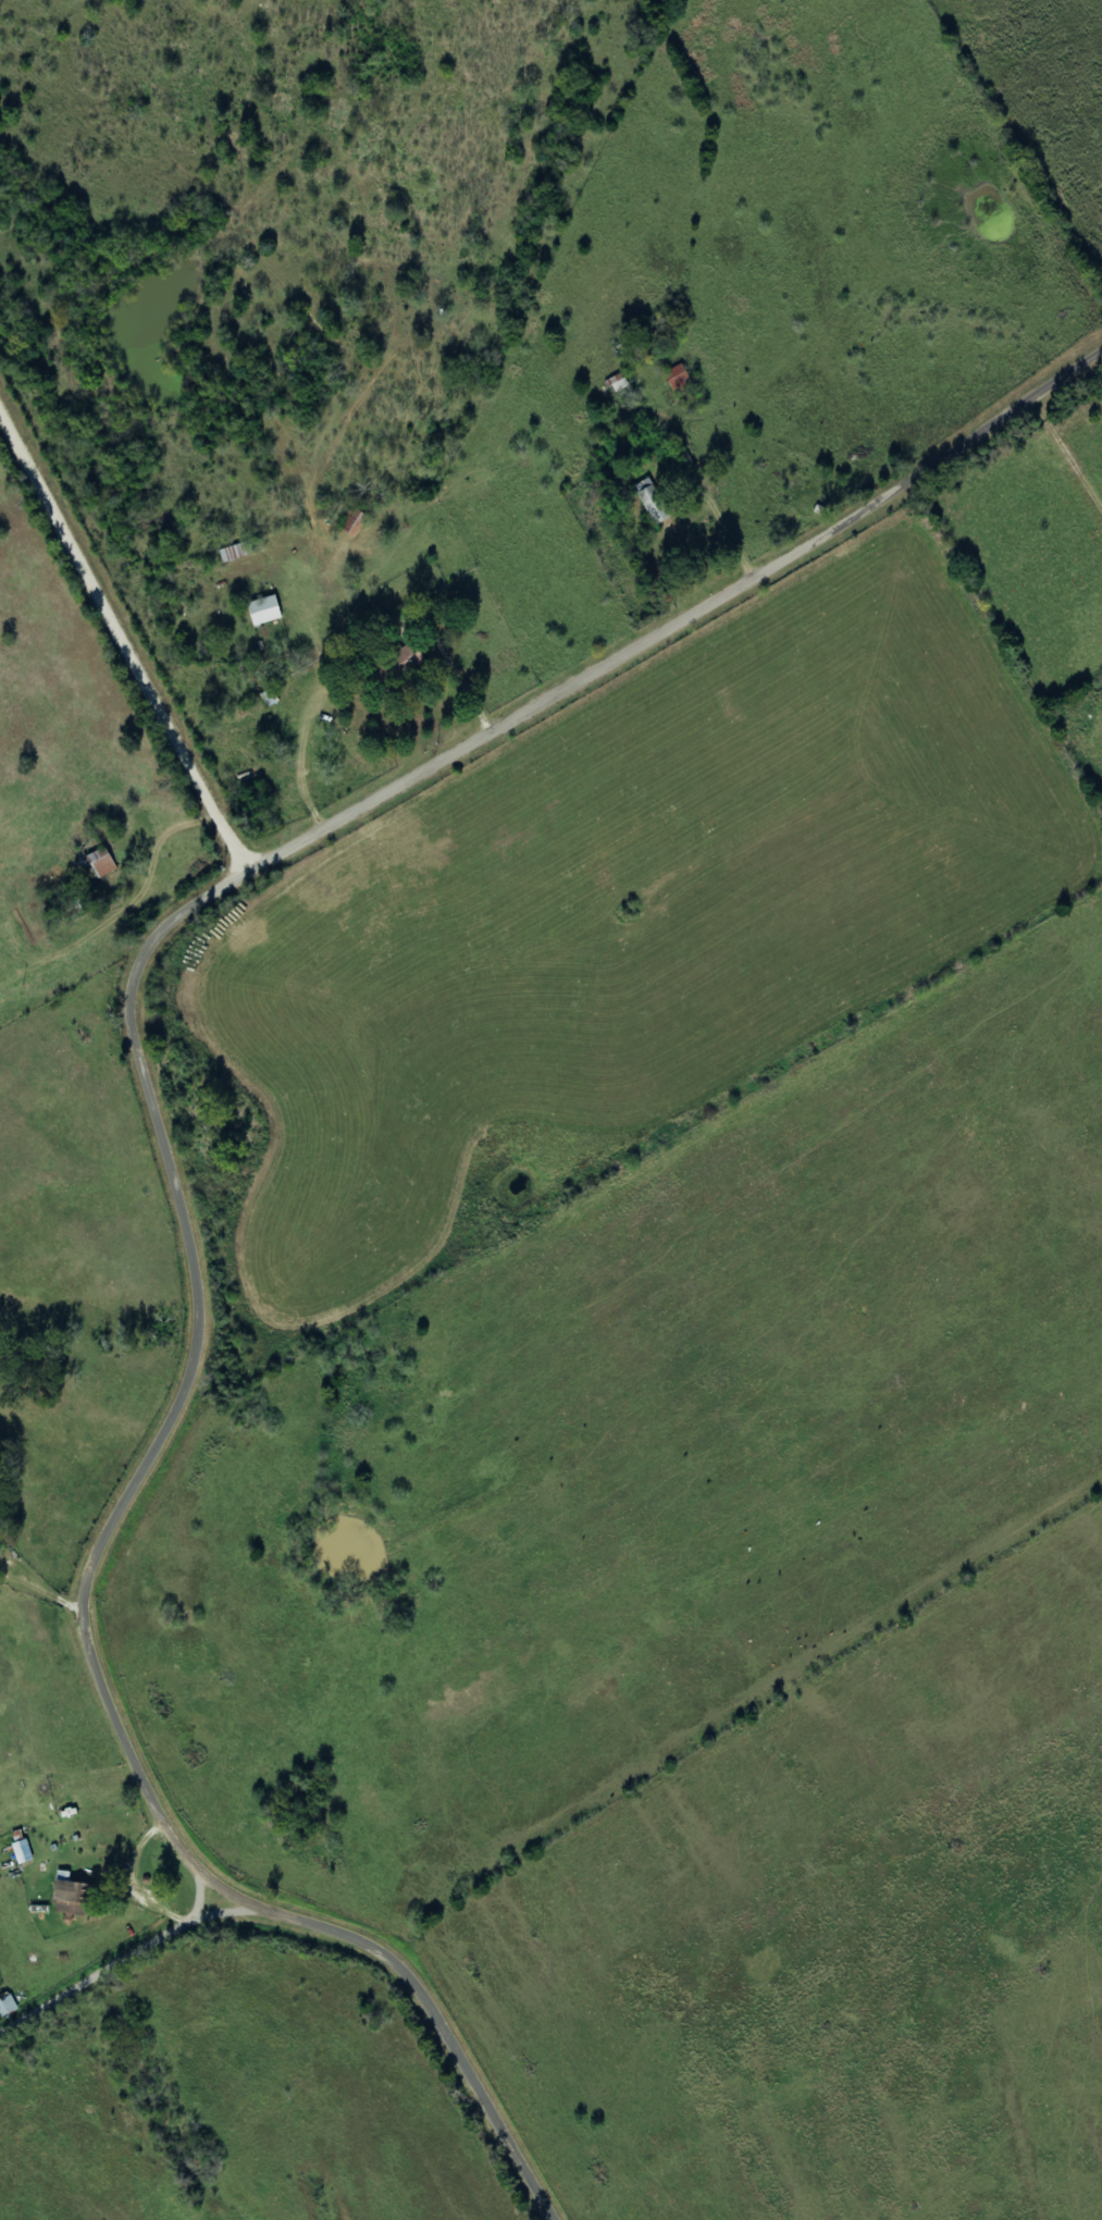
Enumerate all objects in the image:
building: (680, 379)
building: (619, 383)
building: (652, 501)
building: (265, 610)
road: (685, 622)
road: (128, 631)
building: (399, 664)
road: (90, 1599)
building: (23, 1852)
building: (72, 1897)
road: (116, 1964)
building: (7, 2006)

